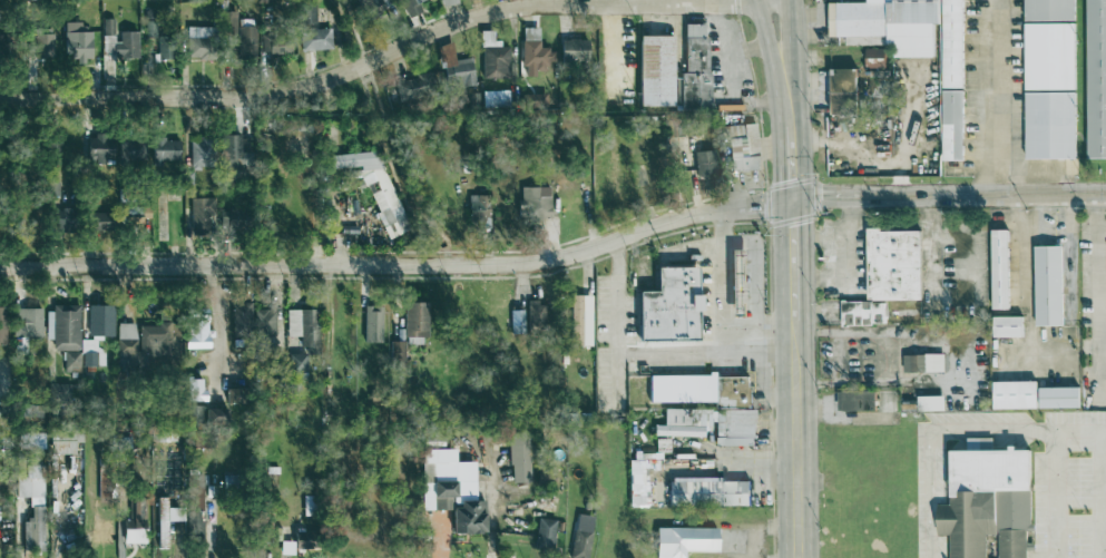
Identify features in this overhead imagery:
building: (448, 2)
road: (770, 4)
road: (775, 4)
building: (411, 7)
building: (1048, 10)
building: (305, 13)
building: (885, 25)
building: (149, 29)
building: (244, 38)
building: (314, 39)
building: (76, 41)
building: (116, 41)
building: (274, 42)
building: (41, 43)
building: (951, 43)
building: (163, 45)
building: (196, 47)
building: (0, 48)
building: (572, 49)
building: (531, 51)
road: (388, 53)
building: (1048, 56)
building: (492, 57)
road: (613, 58)
building: (874, 58)
building: (454, 66)
road: (783, 67)
building: (694, 69)
building: (655, 70)
building: (1096, 79)
building: (841, 91)
road: (995, 97)
building: (493, 98)
building: (951, 125)
building: (1049, 125)
building: (741, 147)
building: (98, 148)
building: (130, 150)
building: (164, 150)
building: (198, 153)
building: (233, 153)
road: (792, 163)
building: (704, 165)
road: (949, 194)
building: (384, 200)
building: (534, 200)
traffic signals: (793, 200)
building: (476, 208)
building: (202, 213)
road: (1022, 216)
building: (65, 219)
building: (97, 219)
road: (1040, 224)
road: (822, 236)
road: (752, 244)
road: (930, 244)
road: (487, 248)
road: (443, 251)
road: (400, 252)
road: (337, 254)
road: (794, 260)
road: (848, 262)
road: (400, 264)
building: (999, 270)
building: (885, 275)
building: (736, 282)
building: (1047, 286)
road: (1100, 300)
road: (722, 303)
building: (671, 306)
building: (536, 313)
road: (1025, 316)
building: (580, 320)
building: (516, 321)
building: (26, 322)
building: (253, 322)
building: (371, 323)
building: (414, 323)
building: (1, 324)
road: (214, 325)
building: (303, 325)
building: (61, 326)
building: (1007, 326)
road: (617, 330)
building: (196, 331)
building: (96, 333)
building: (154, 339)
road: (728, 340)
building: (126, 341)
building: (395, 352)
road: (706, 355)
building: (71, 361)
building: (295, 362)
building: (923, 363)
building: (194, 390)
building: (233, 394)
building: (1014, 395)
building: (1058, 398)
building: (854, 400)
building: (930, 403)
building: (32, 411)
building: (193, 415)
building: (707, 415)
building: (215, 417)
road: (952, 429)
road: (796, 439)
building: (30, 440)
building: (62, 440)
building: (518, 458)
building: (635, 474)
building: (104, 483)
building: (450, 490)
building: (707, 491)
road: (1051, 492)
building: (195, 495)
building: (987, 502)
building: (30, 506)
building: (165, 519)
building: (133, 521)
road: (211, 522)
building: (195, 526)
building: (100, 531)
building: (544, 533)
building: (580, 536)
building: (304, 539)
building: (683, 540)

